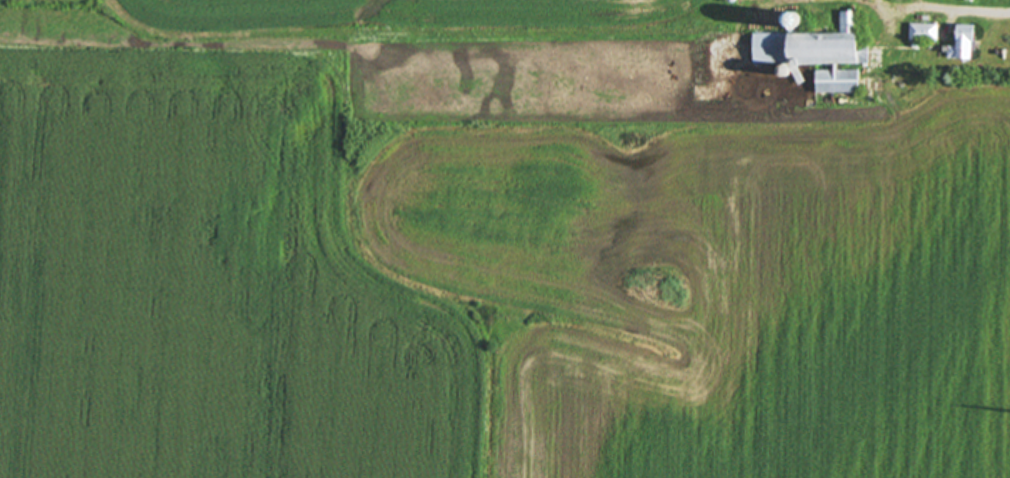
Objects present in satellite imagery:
road: (954, 8)
building: (794, 16)
building: (924, 29)
building: (964, 39)
building: (819, 52)

